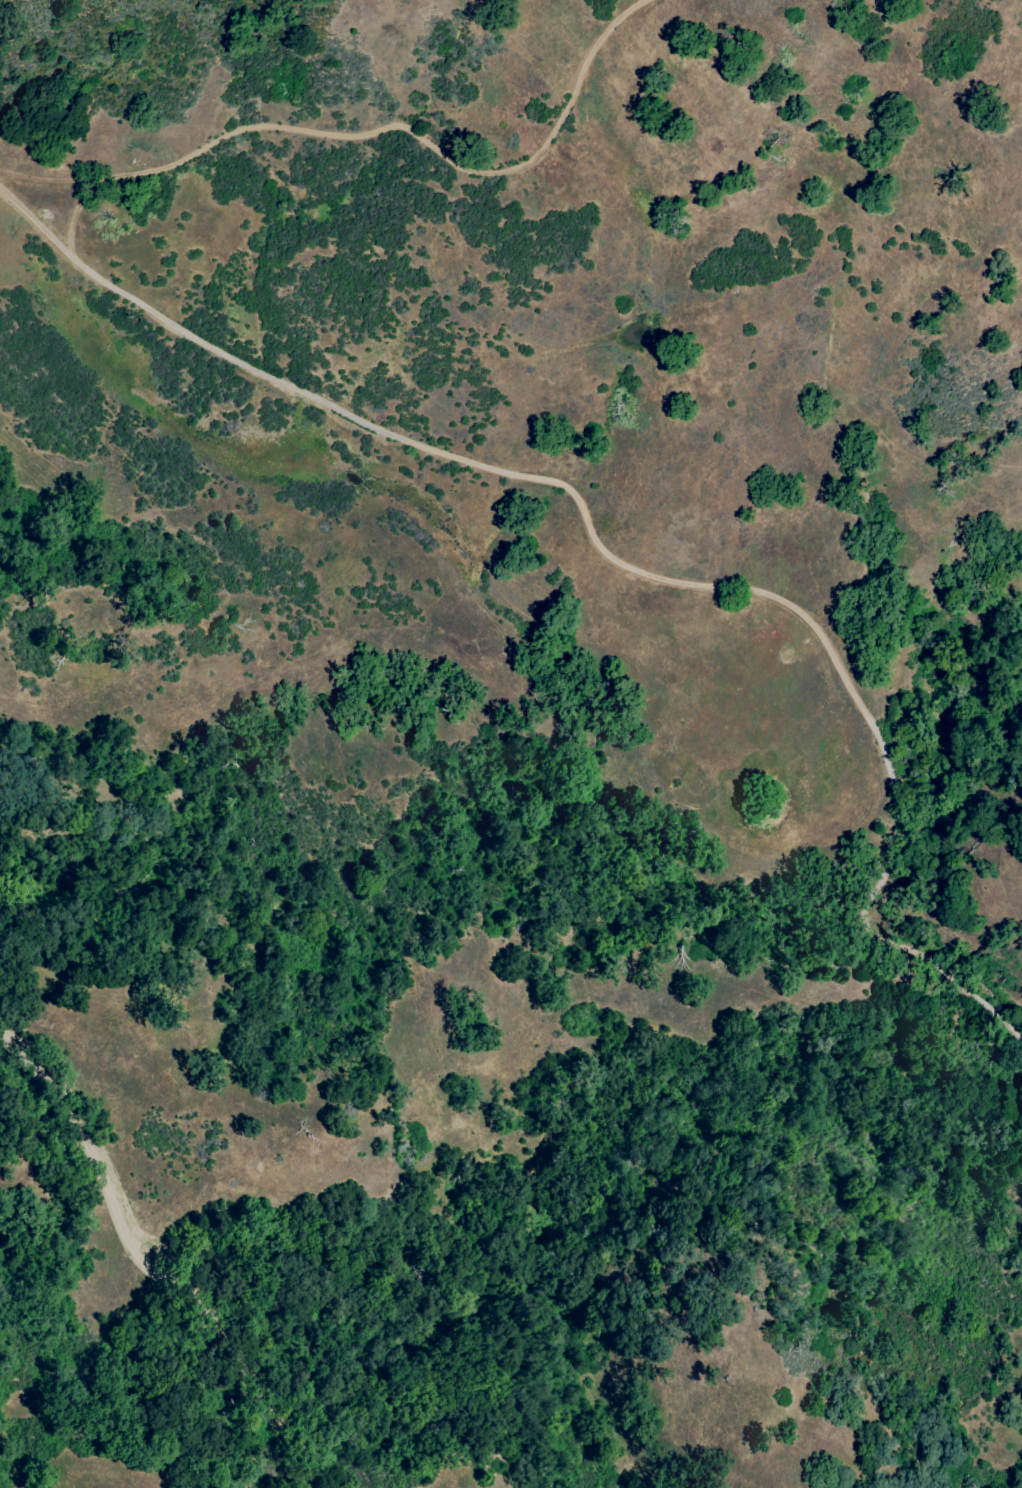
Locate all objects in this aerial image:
road: (372, 140)
road: (74, 223)
road: (636, 578)
road: (155, 1267)

